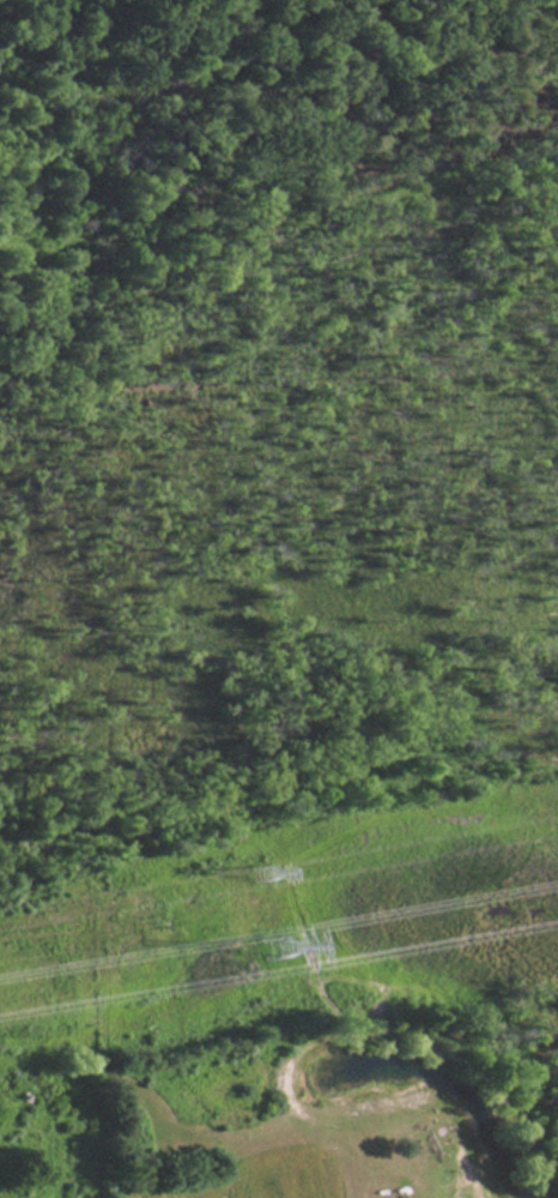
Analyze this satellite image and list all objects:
power tower: (267, 868)
power tower: (277, 946)

